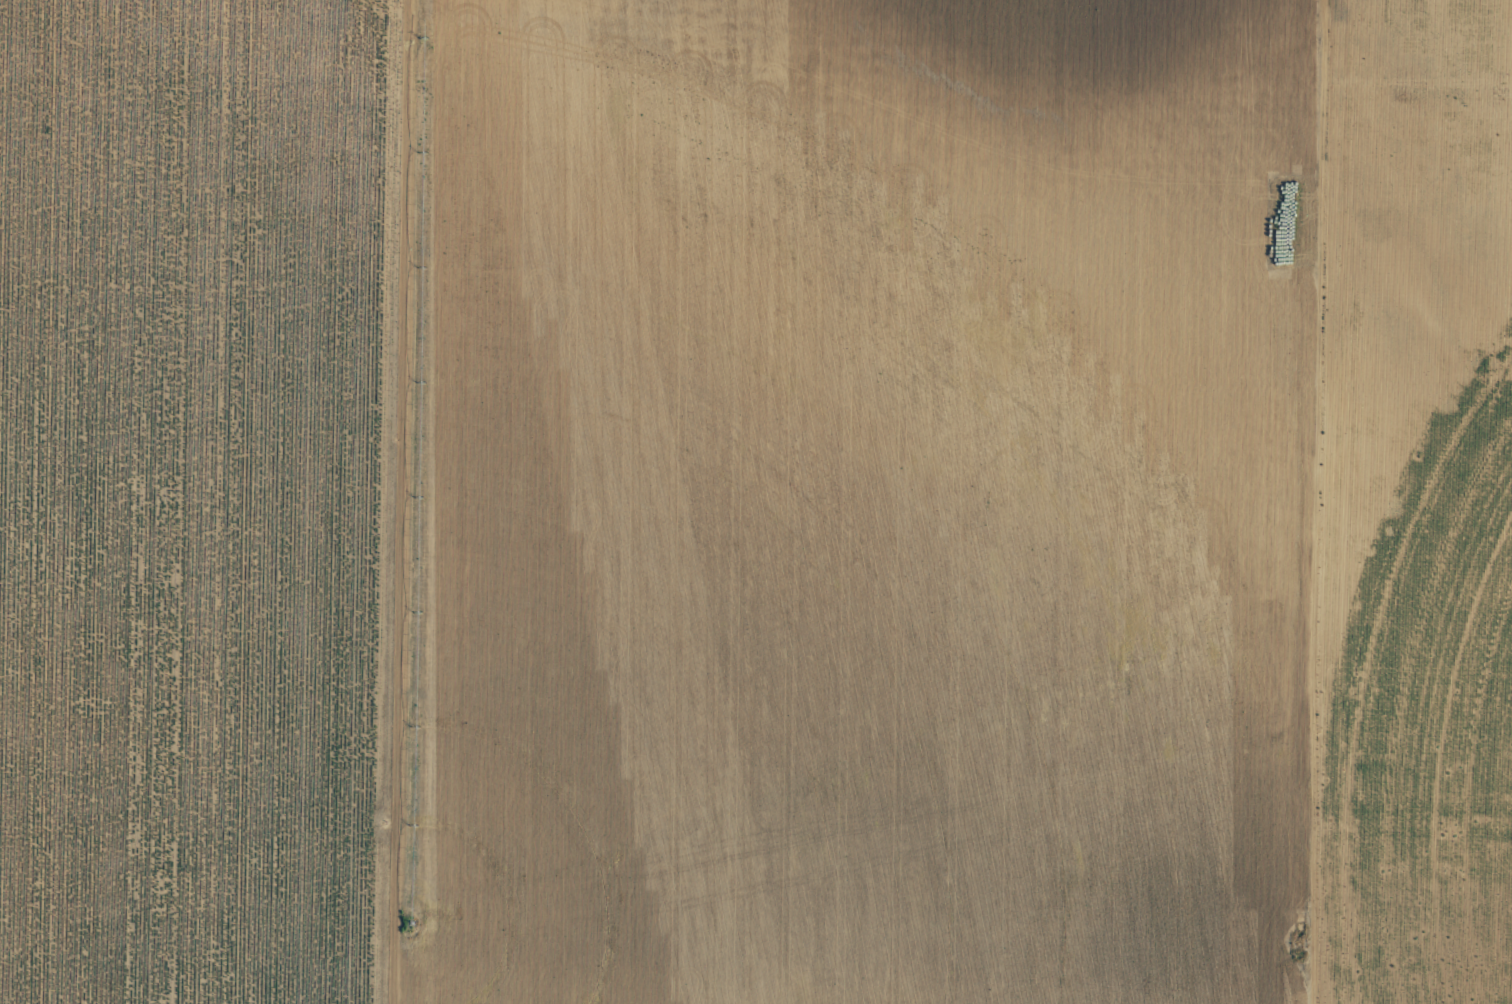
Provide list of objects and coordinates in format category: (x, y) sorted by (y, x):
road: (421, 502)
road: (1334, 502)

